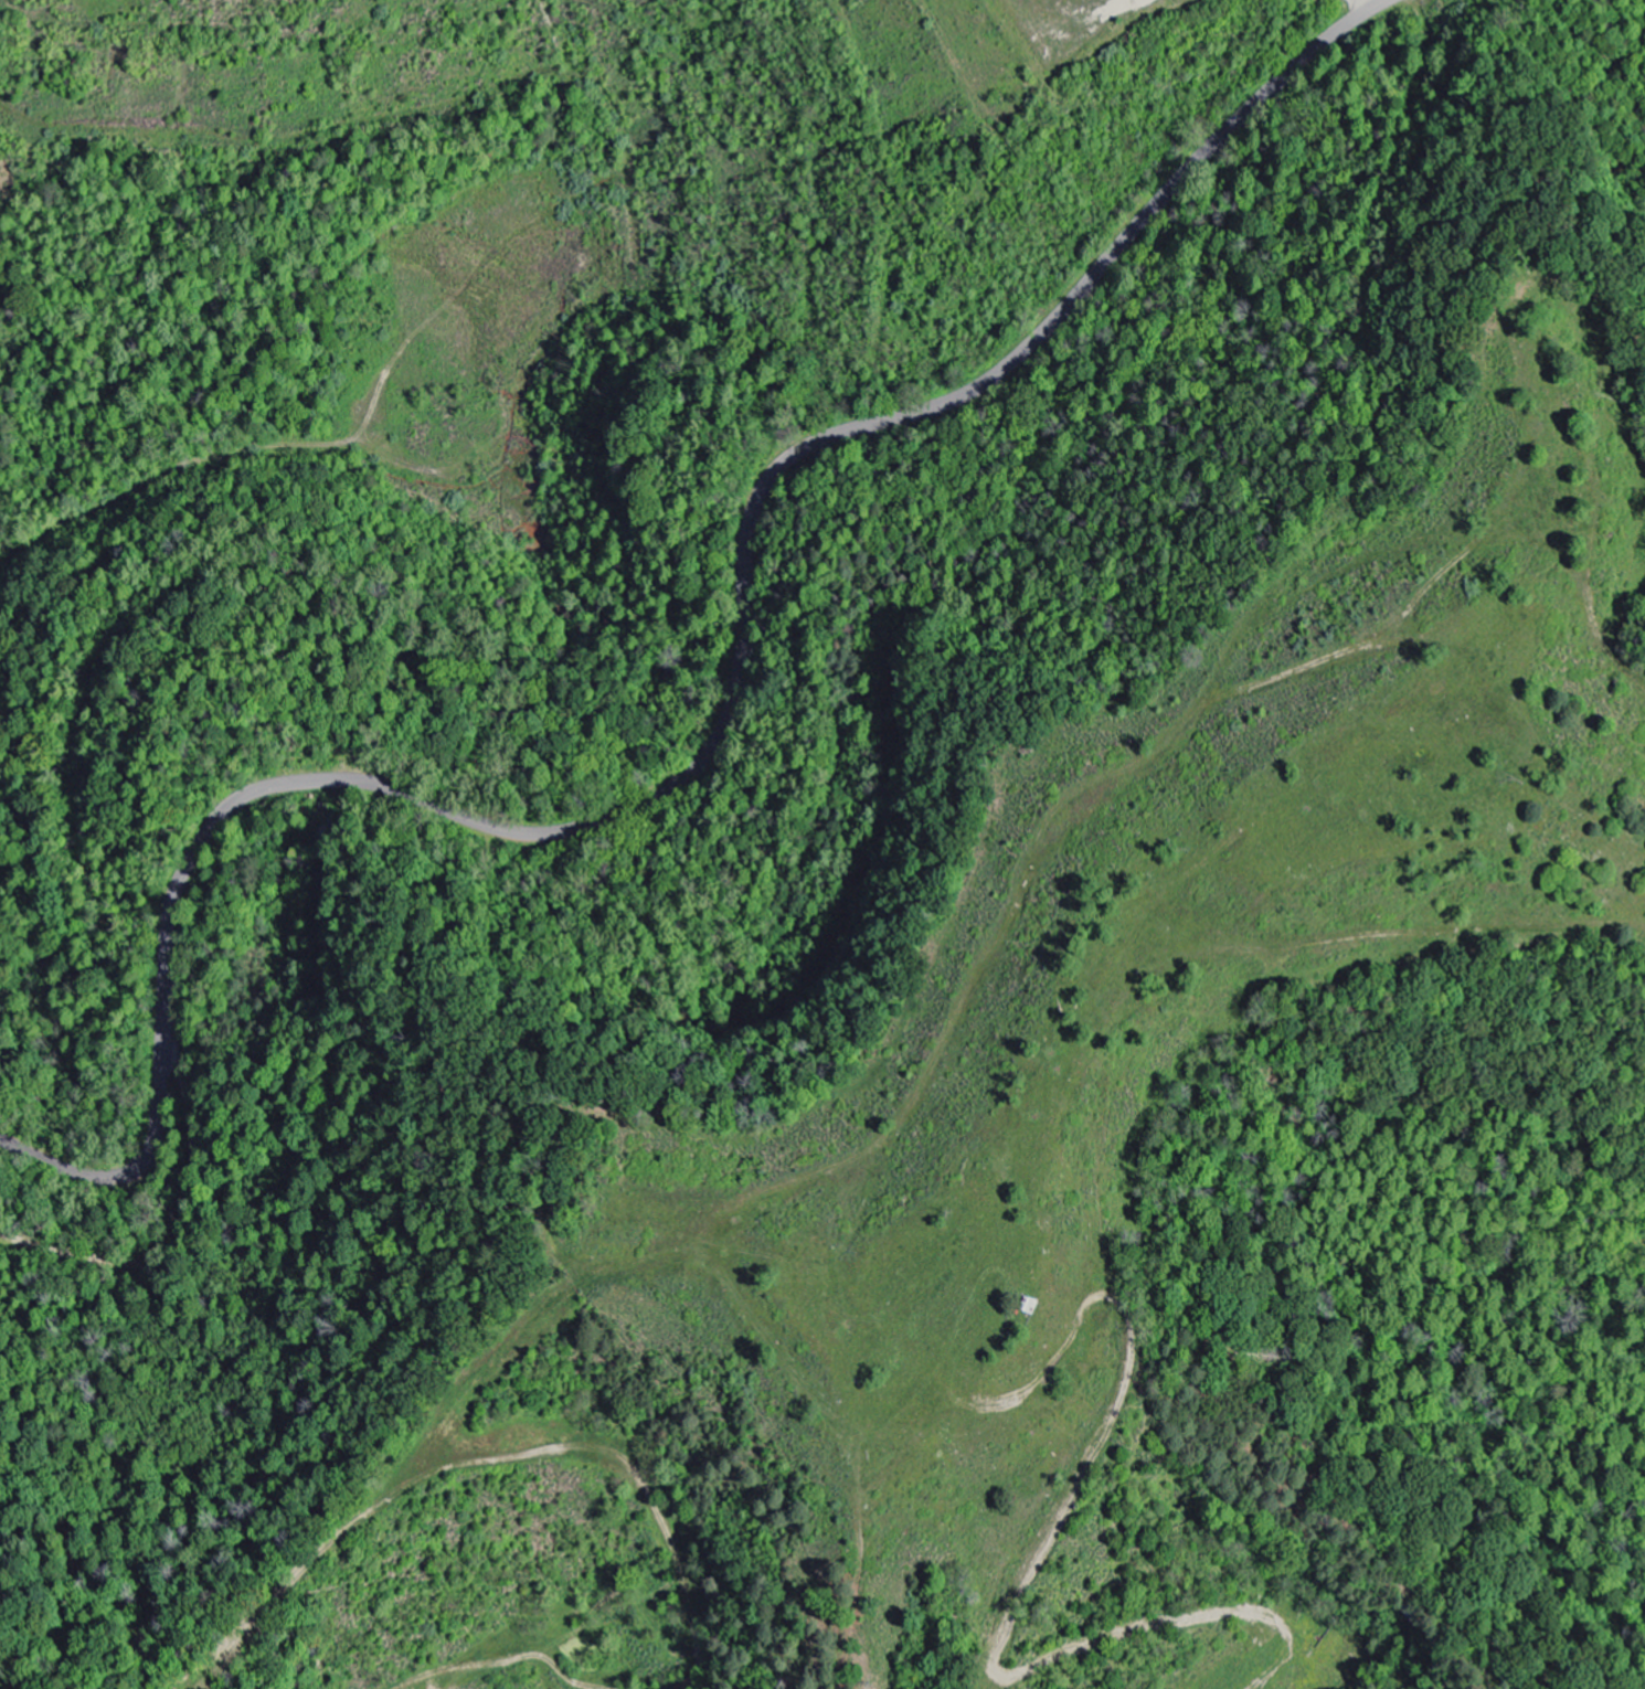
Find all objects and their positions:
road: (737, 660)
road: (75, 1169)

